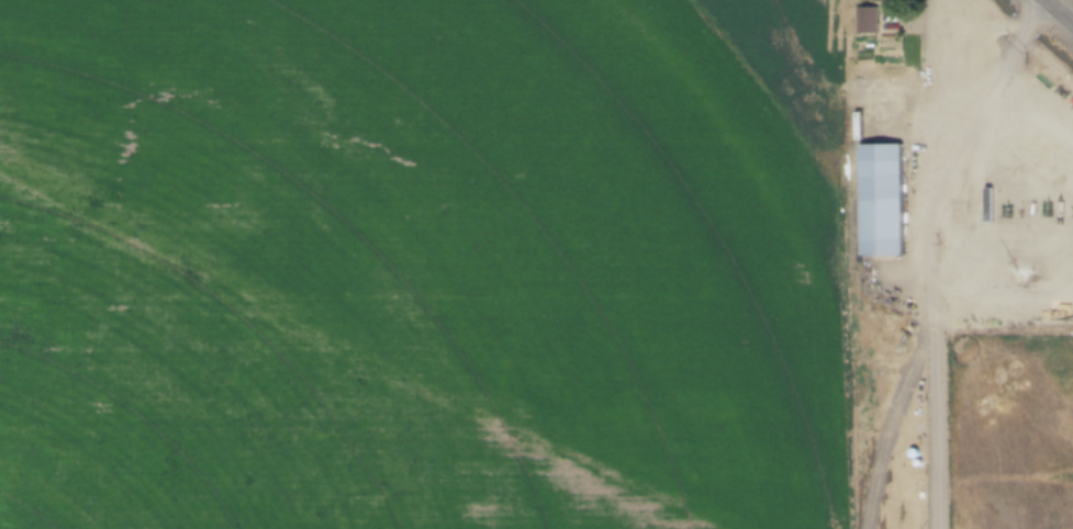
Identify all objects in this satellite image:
building: (888, 1)
road: (1050, 2)
road: (1058, 13)
building: (868, 20)
building: (893, 20)
road: (986, 114)
road: (899, 122)
road: (1046, 159)
road: (1029, 195)
building: (884, 199)
road: (930, 263)
crop: (440, 269)
road: (902, 281)

